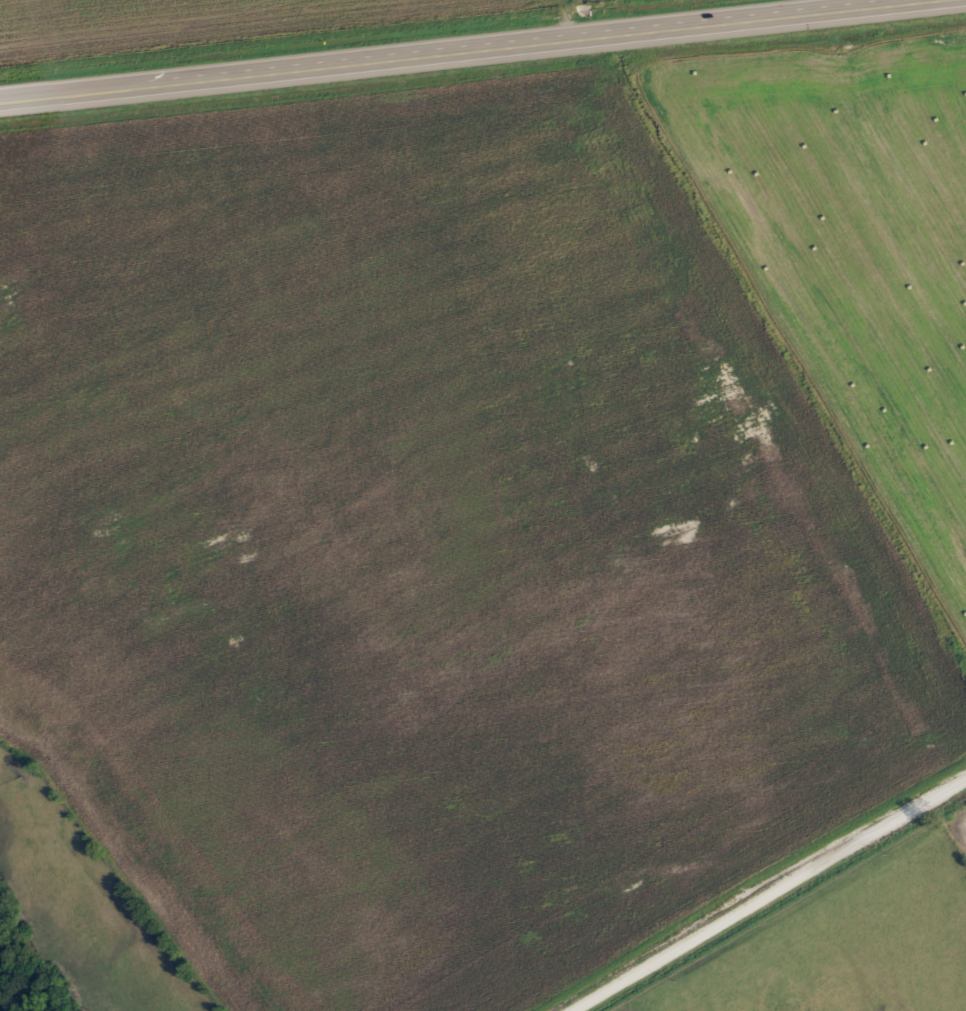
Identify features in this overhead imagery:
road: (445, 48)
road: (768, 894)

